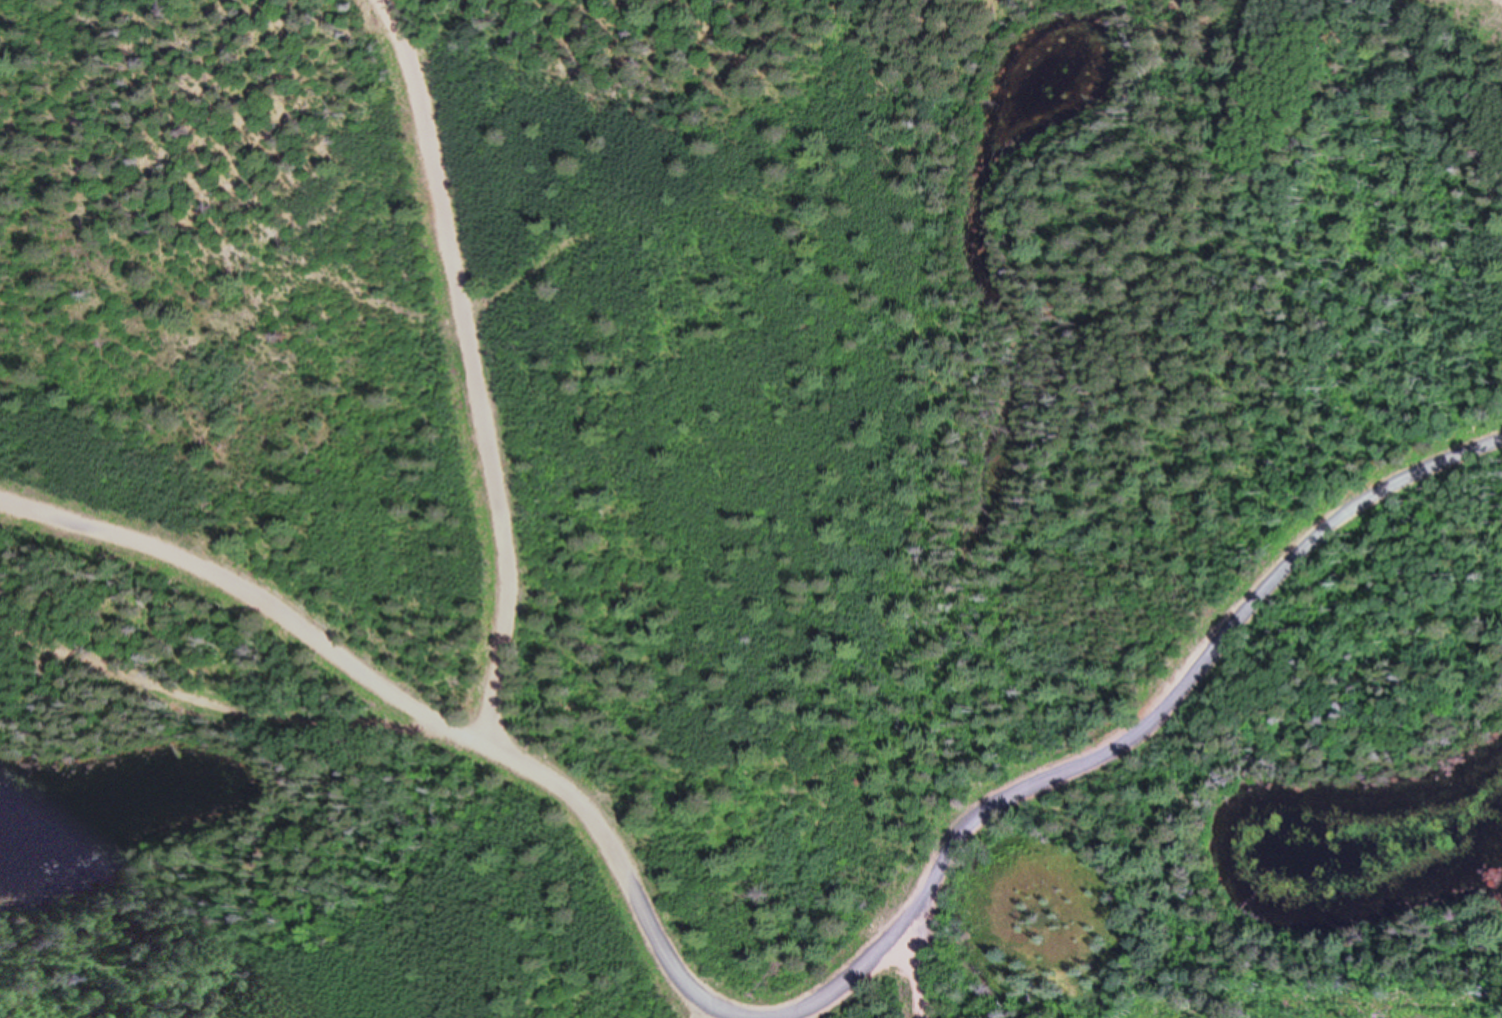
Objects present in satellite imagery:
road: (475, 367)
road: (203, 692)
road: (1169, 712)
road: (505, 749)
road: (702, 1009)

